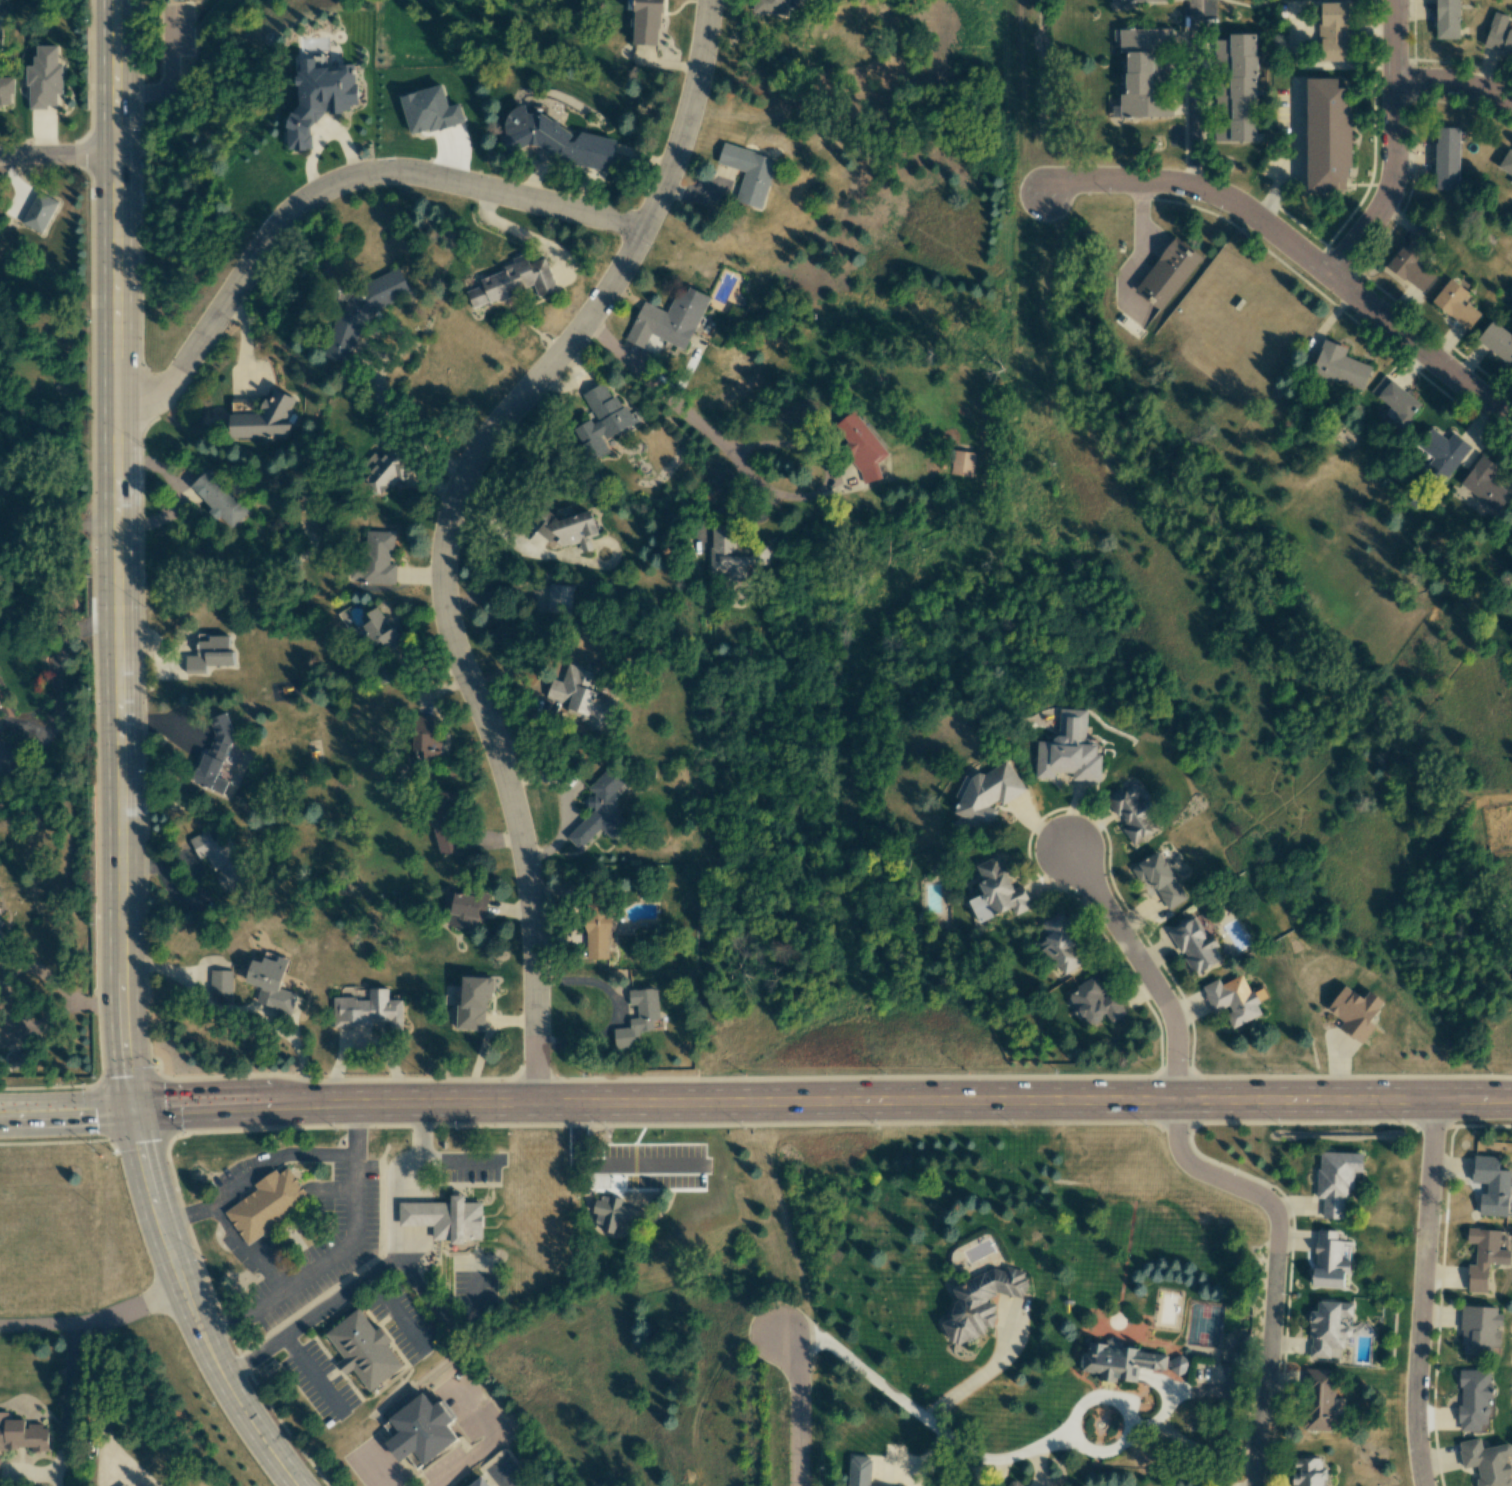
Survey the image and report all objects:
building: (1155, 1)
building: (772, 7)
building: (1447, 19)
building: (646, 22)
building: (1334, 31)
building: (1499, 34)
building: (1144, 72)
building: (44, 78)
road: (1455, 85)
building: (6, 90)
building: (1240, 91)
road: (1195, 94)
building: (318, 98)
building: (429, 110)
building: (1327, 136)
building: (556, 139)
road: (1398, 147)
road: (57, 155)
building: (1446, 158)
building: (1506, 162)
building: (749, 173)
building: (1511, 181)
road: (329, 184)
road: (1295, 249)
building: (1414, 260)
building: (1167, 273)
building: (513, 282)
building: (1455, 304)
building: (362, 313)
building: (669, 319)
road: (401, 337)
building: (1497, 341)
building: (1340, 366)
building: (1395, 401)
building: (265, 418)
building: (600, 421)
road: (400, 423)
building: (860, 446)
building: (962, 463)
building: (387, 470)
road: (751, 481)
building: (1484, 484)
building: (218, 499)
building: (1511, 516)
road: (443, 519)
road: (52, 520)
road: (496, 525)
building: (568, 530)
building: (732, 553)
road: (117, 556)
building: (374, 560)
building: (558, 598)
building: (380, 630)
building: (209, 653)
road: (56, 657)
building: (380, 675)
building: (581, 696)
road: (26, 725)
building: (425, 739)
road: (27, 748)
building: (1069, 750)
building: (215, 757)
building: (987, 794)
building: (600, 810)
building: (1133, 812)
building: (445, 823)
building: (219, 859)
building: (1159, 879)
building: (997, 891)
building: (465, 909)
building: (597, 933)
building: (1, 943)
building: (1060, 945)
building: (1195, 945)
road: (1140, 966)
building: (270, 983)
building: (1234, 1000)
building: (1096, 1001)
building: (473, 1002)
road: (238, 1009)
building: (368, 1010)
building: (1355, 1012)
road: (58, 1013)
building: (638, 1017)
road: (820, 1101)
traffic signals: (130, 1112)
road: (65, 1115)
road: (392, 1171)
road: (253, 1175)
building: (1336, 1180)
building: (1491, 1185)
building: (269, 1206)
building: (611, 1214)
building: (460, 1221)
road: (242, 1248)
road: (336, 1252)
building: (1483, 1257)
building: (1329, 1260)
road: (1272, 1264)
road: (366, 1280)
road: (1422, 1293)
building: (980, 1302)
road: (190, 1309)
road: (93, 1319)
building: (1329, 1329)
building: (1480, 1331)
building: (367, 1349)
building: (1118, 1361)
building: (1178, 1366)
road: (987, 1378)
building: (1473, 1399)
building: (1319, 1400)
road: (109, 1406)
road: (1167, 1406)
road: (793, 1418)
road: (66, 1421)
road: (938, 1431)
building: (424, 1432)
building: (23, 1435)
road: (468, 1461)
building: (1487, 1462)
building: (859, 1472)
building: (1308, 1472)
building: (483, 1483)
building: (122, 1485)

